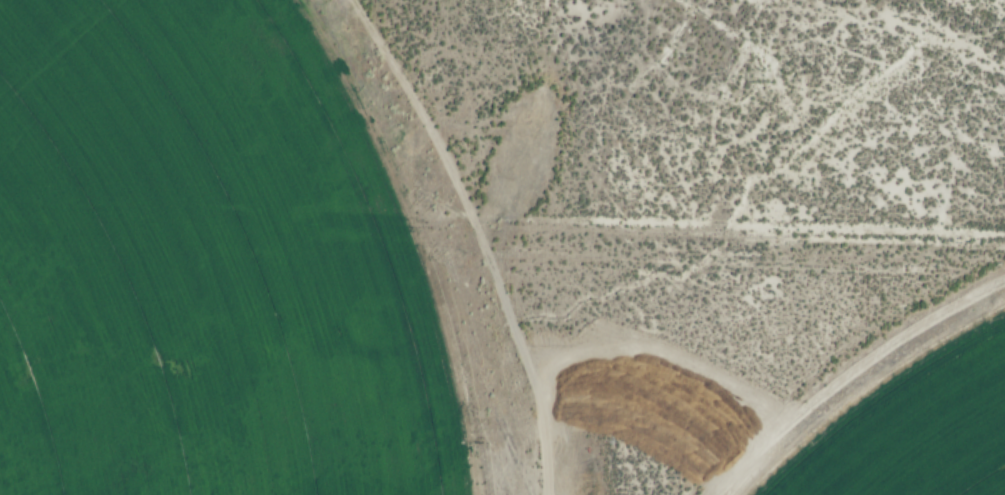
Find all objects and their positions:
crop: (200, 266)
crop: (909, 427)

